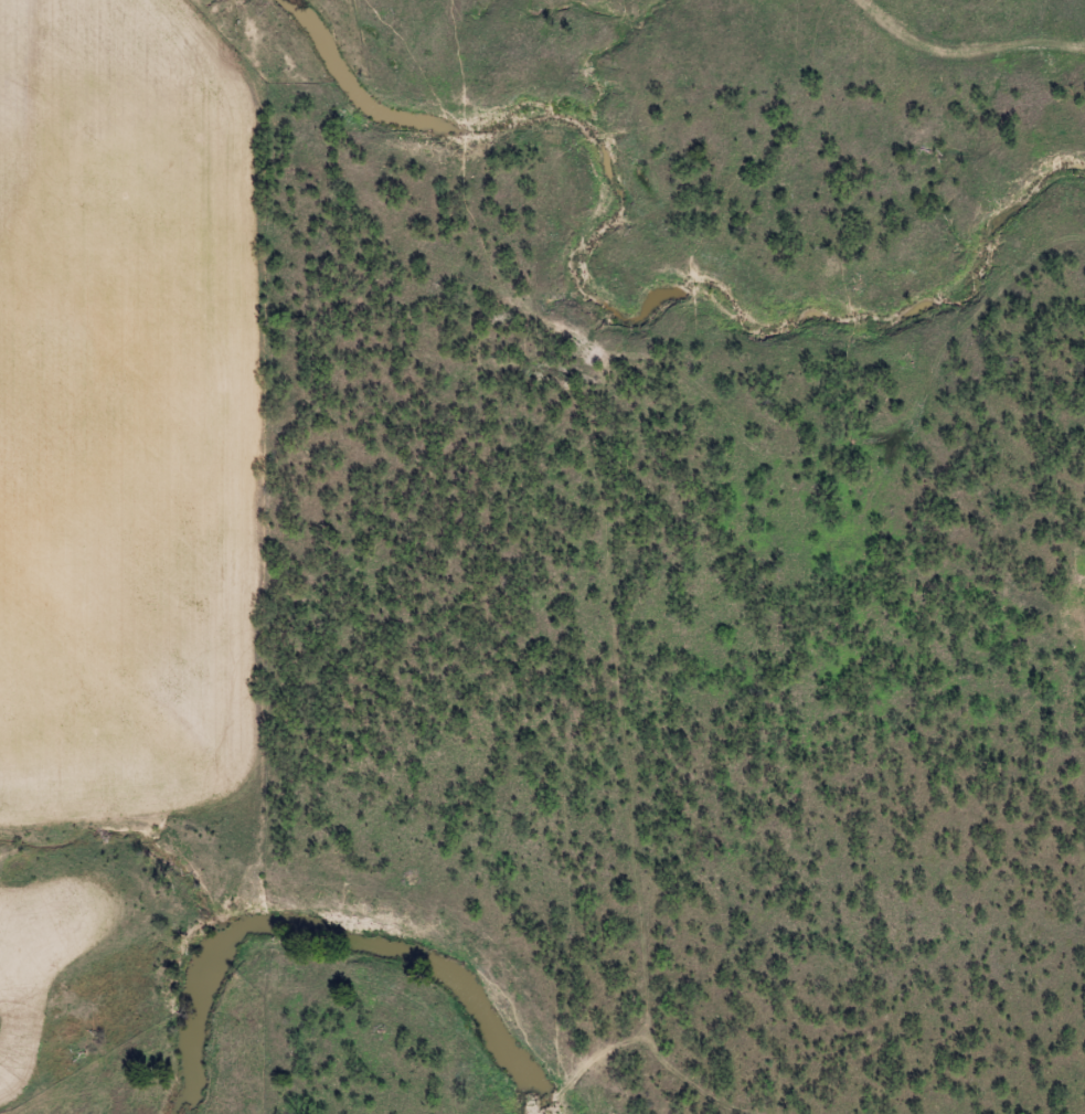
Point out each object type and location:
road: (972, 50)

